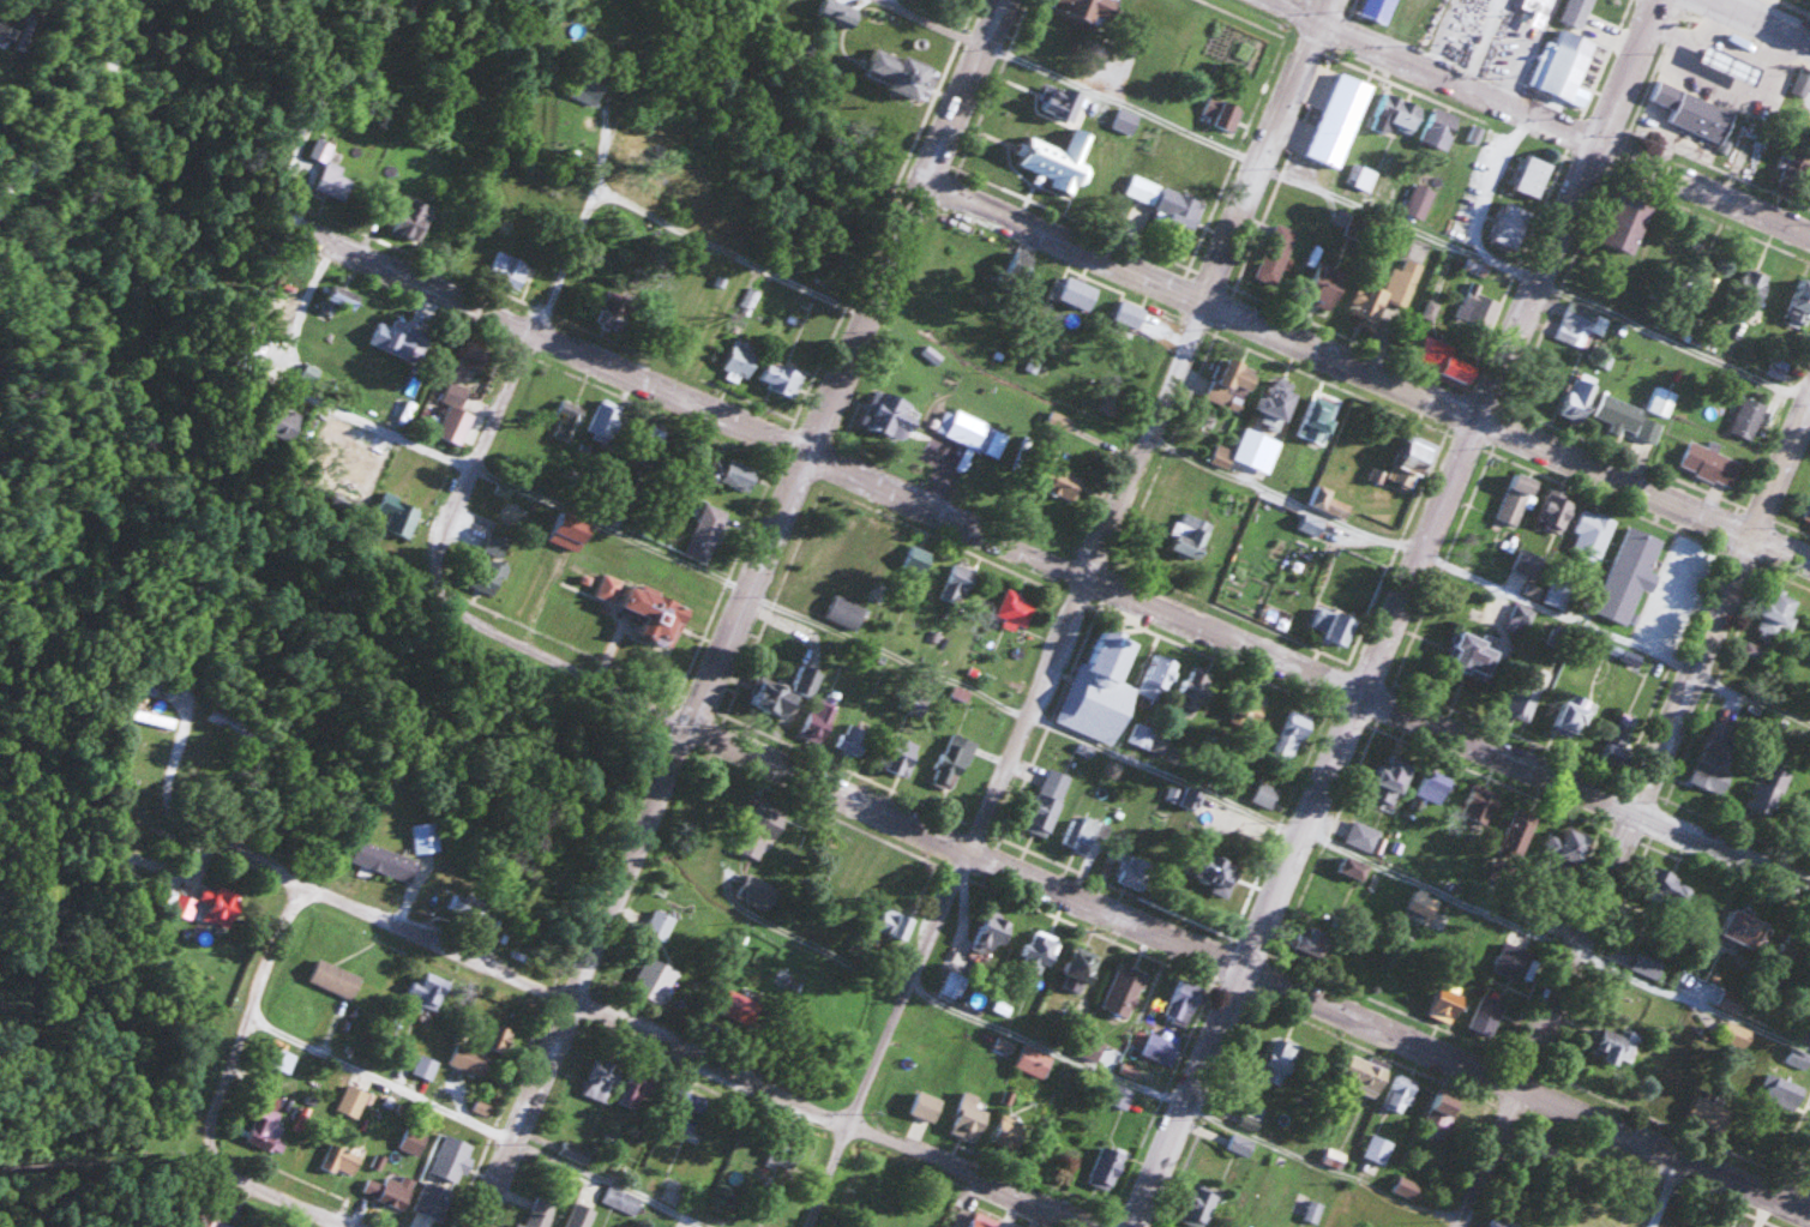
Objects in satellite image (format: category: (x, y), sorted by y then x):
building: (1089, 8)
building: (1379, 10)
building: (1577, 12)
building: (1163, 16)
road: (1762, 20)
building: (1564, 64)
building: (1731, 64)
building: (902, 70)
building: (588, 85)
building: (1800, 85)
road: (79, 103)
road: (321, 104)
building: (1222, 112)
building: (1694, 112)
building: (1397, 113)
building: (1809, 115)
road: (1535, 118)
building: (1341, 120)
building: (1125, 121)
building: (1441, 126)
building: (1059, 160)
building: (330, 170)
building: (1534, 174)
road: (285, 176)
building: (1363, 176)
building: (662, 185)
building: (1420, 199)
building: (1167, 203)
building: (413, 217)
building: (1626, 223)
road: (1395, 224)
building: (1511, 224)
building: (1279, 248)
road: (569, 257)
building: (509, 267)
building: (1327, 287)
building: (1749, 290)
building: (1078, 293)
building: (341, 297)
building: (1383, 300)
building: (1799, 303)
building: (619, 305)
building: (1478, 308)
building: (1130, 314)
building: (1581, 324)
building: (399, 337)
building: (474, 355)
building: (741, 357)
building: (1445, 359)
building: (1776, 367)
road: (1367, 373)
building: (782, 377)
building: (1232, 384)
building: (1581, 391)
building: (455, 395)
building: (1661, 401)
building: (1277, 402)
building: (895, 416)
building: (1748, 416)
building: (605, 417)
building: (1629, 417)
building: (1318, 419)
building: (287, 423)
building: (1058, 425)
road: (373, 426)
building: (972, 432)
building: (650, 445)
building: (1257, 450)
building: (1412, 462)
building: (1710, 464)
building: (730, 471)
building: (1063, 482)
building: (1516, 499)
building: (1808, 509)
building: (1555, 512)
building: (397, 515)
building: (570, 530)
building: (705, 531)
building: (1590, 535)
building: (1190, 536)
building: (882, 540)
building: (497, 545)
road: (1052, 557)
building: (918, 559)
building: (488, 575)
building: (1629, 575)
building: (958, 584)
road: (1475, 585)
building: (1015, 607)
building: (846, 612)
building: (655, 613)
road: (740, 613)
road: (1070, 613)
road: (1396, 613)
building: (1776, 614)
building: (1335, 625)
building: (1472, 654)
building: (148, 686)
building: (1111, 687)
building: (1196, 690)
building: (784, 691)
building: (1525, 698)
building: (910, 700)
building: (1573, 714)
building: (149, 717)
building: (819, 718)
building: (226, 723)
building: (1291, 736)
building: (1618, 736)
building: (853, 739)
building: (902, 756)
building: (210, 758)
building: (954, 760)
road: (1138, 765)
building: (1713, 765)
building: (1390, 782)
building: (1432, 788)
building: (1766, 789)
building: (1267, 795)
road: (166, 799)
building: (1048, 801)
building: (1479, 806)
road: (1636, 814)
building: (1806, 824)
building: (762, 830)
building: (1080, 832)
building: (1519, 832)
building: (1363, 836)
building: (423, 837)
building: (1568, 846)
building: (383, 860)
building: (1211, 868)
building: (1353, 868)
building: (1135, 872)
building: (1665, 890)
building: (758, 891)
building: (1424, 903)
building: (220, 904)
building: (185, 906)
building: (464, 907)
road: (1117, 910)
building: (892, 922)
building: (657, 924)
building: (1742, 927)
building: (993, 932)
building: (1040, 950)
building: (1513, 955)
building: (1647, 966)
building: (1078, 972)
building: (335, 978)
building: (654, 979)
building: (955, 985)
building: (428, 990)
building: (1124, 991)
building: (1183, 1003)
building: (1447, 1004)
building: (738, 1005)
road: (245, 1014)
building: (1486, 1015)
road: (659, 1040)
building: (1611, 1042)
building: (481, 1046)
building: (1090, 1048)
building: (281, 1058)
building: (1034, 1060)
building: (1279, 1060)
building: (425, 1065)
road: (1102, 1071)
building: (1367, 1073)
building: (601, 1078)
building: (637, 1090)
building: (1782, 1091)
building: (1400, 1093)
building: (1120, 1094)
building: (351, 1100)
building: (1442, 1113)
building: (968, 1117)
road: (474, 1125)
building: (265, 1131)
building: (1010, 1132)
building: (413, 1139)
building: (1241, 1144)
building: (1378, 1149)
building: (576, 1151)
building: (452, 1157)
building: (339, 1159)
building: (1107, 1167)
road: (1799, 1179)
building: (1406, 1187)
building: (396, 1190)
road: (265, 1192)
building: (433, 1199)
building: (621, 1199)
building: (1199, 1207)
building: (540, 1213)
building: (578, 1215)
building: (984, 1220)

